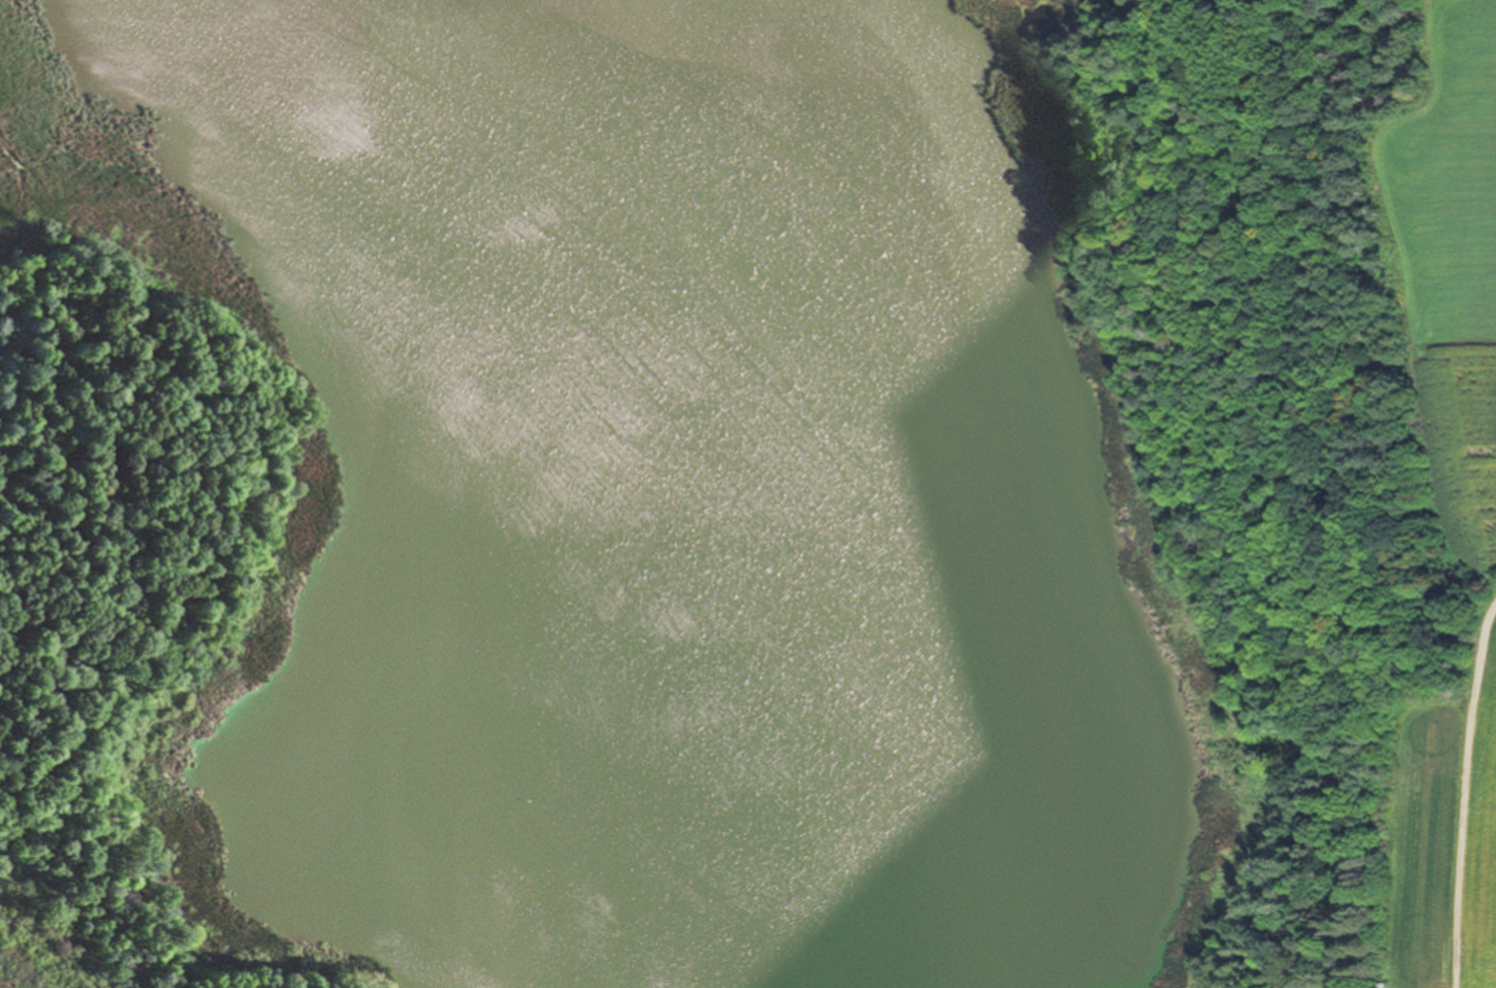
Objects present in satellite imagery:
crop: (1448, 494)
road: (1465, 791)

